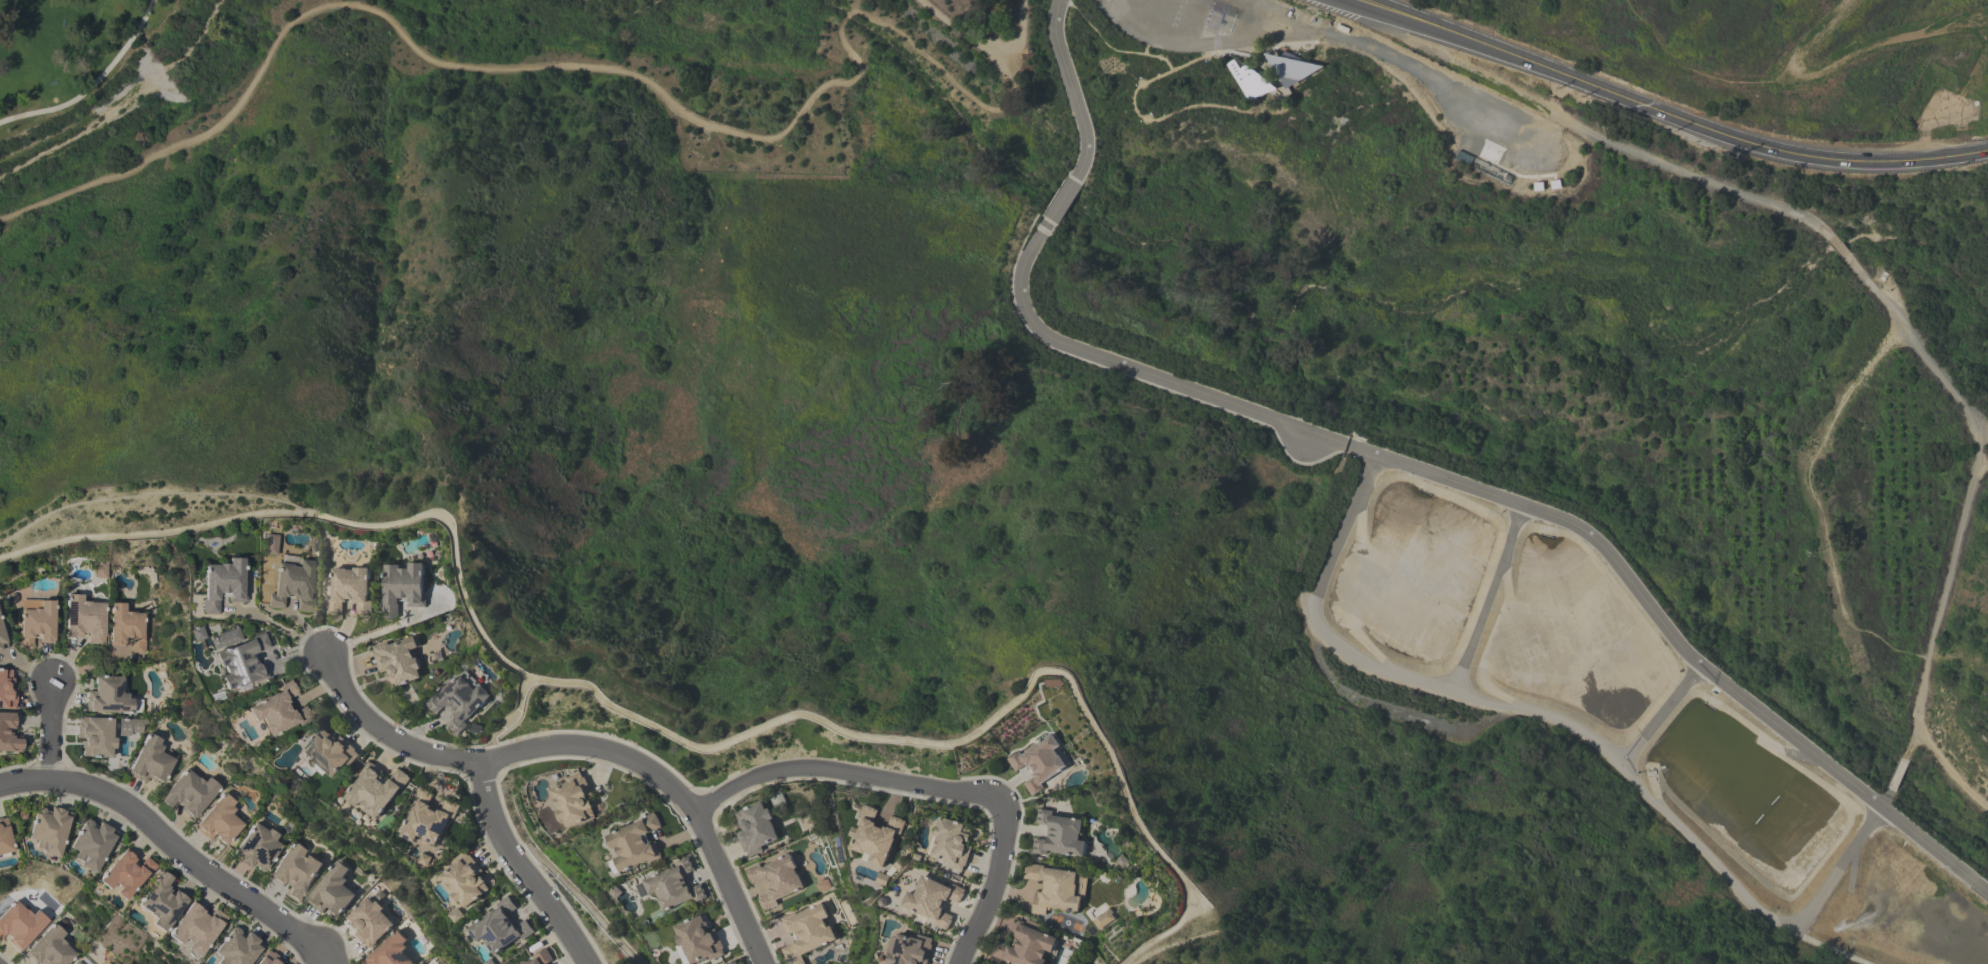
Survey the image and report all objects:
road: (1069, 3)
road: (1122, 5)
road: (1271, 15)
road: (1161, 16)
road: (1194, 21)
parking lot: (1215, 25)
road: (962, 30)
road: (996, 30)
road: (1336, 36)
road: (1146, 42)
road: (1115, 49)
road: (1264, 52)
road: (1190, 61)
building: (1239, 62)
road: (594, 64)
building: (1291, 67)
road: (1270, 73)
building: (1249, 80)
road: (94, 85)
road: (1070, 88)
road: (1280, 100)
road: (1201, 105)
road: (1670, 116)
road: (1565, 158)
road: (1567, 188)
road: (1061, 200)
road: (1837, 246)
park: (752, 247)
road: (1982, 431)
road: (1976, 478)
road: (1817, 501)
road: (1511, 503)
building: (271, 544)
building: (224, 584)
building: (294, 586)
building: (404, 589)
building: (350, 591)
building: (85, 619)
building: (36, 622)
building: (127, 627)
road: (282, 629)
road: (384, 631)
building: (2, 638)
building: (226, 639)
building: (399, 661)
building: (243, 663)
building: (7, 691)
building: (108, 696)
building: (461, 701)
building: (279, 711)
road: (511, 722)
building: (130, 726)
road: (50, 733)
building: (9, 734)
road: (670, 736)
building: (96, 737)
road: (579, 747)
building: (330, 753)
building: (150, 761)
building: (1040, 763)
road: (848, 772)
road: (1950, 776)
building: (376, 790)
building: (190, 793)
building: (574, 801)
building: (429, 819)
building: (219, 821)
building: (756, 829)
building: (49, 831)
building: (1059, 836)
building: (875, 837)
building: (5, 839)
building: (636, 844)
building: (953, 844)
building: (92, 845)
road: (171, 847)
building: (257, 848)
road: (518, 869)
building: (296, 872)
building: (127, 874)
building: (777, 880)
building: (467, 881)
building: (673, 886)
road: (991, 889)
building: (333, 891)
building: (1057, 891)
road: (582, 901)
building: (933, 901)
building: (163, 902)
building: (1103, 921)
building: (370, 922)
building: (20, 924)
building: (197, 928)
building: (502, 928)
building: (807, 933)
building: (698, 941)
building: (50, 948)
building: (238, 948)
building: (1024, 948)
building: (909, 950)
building: (391, 951)
building: (544, 957)
building: (270, 958)
building: (76, 962)
building: (79, 962)
building: (734, 962)

